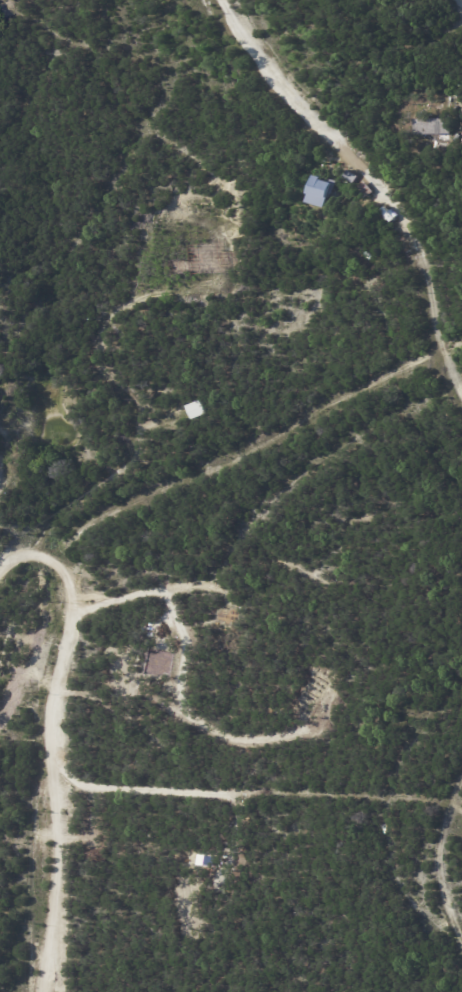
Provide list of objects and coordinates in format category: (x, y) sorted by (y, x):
building: (432, 126)
building: (353, 177)
road: (371, 181)
building: (324, 189)
building: (194, 410)
road: (43, 750)
road: (438, 862)

